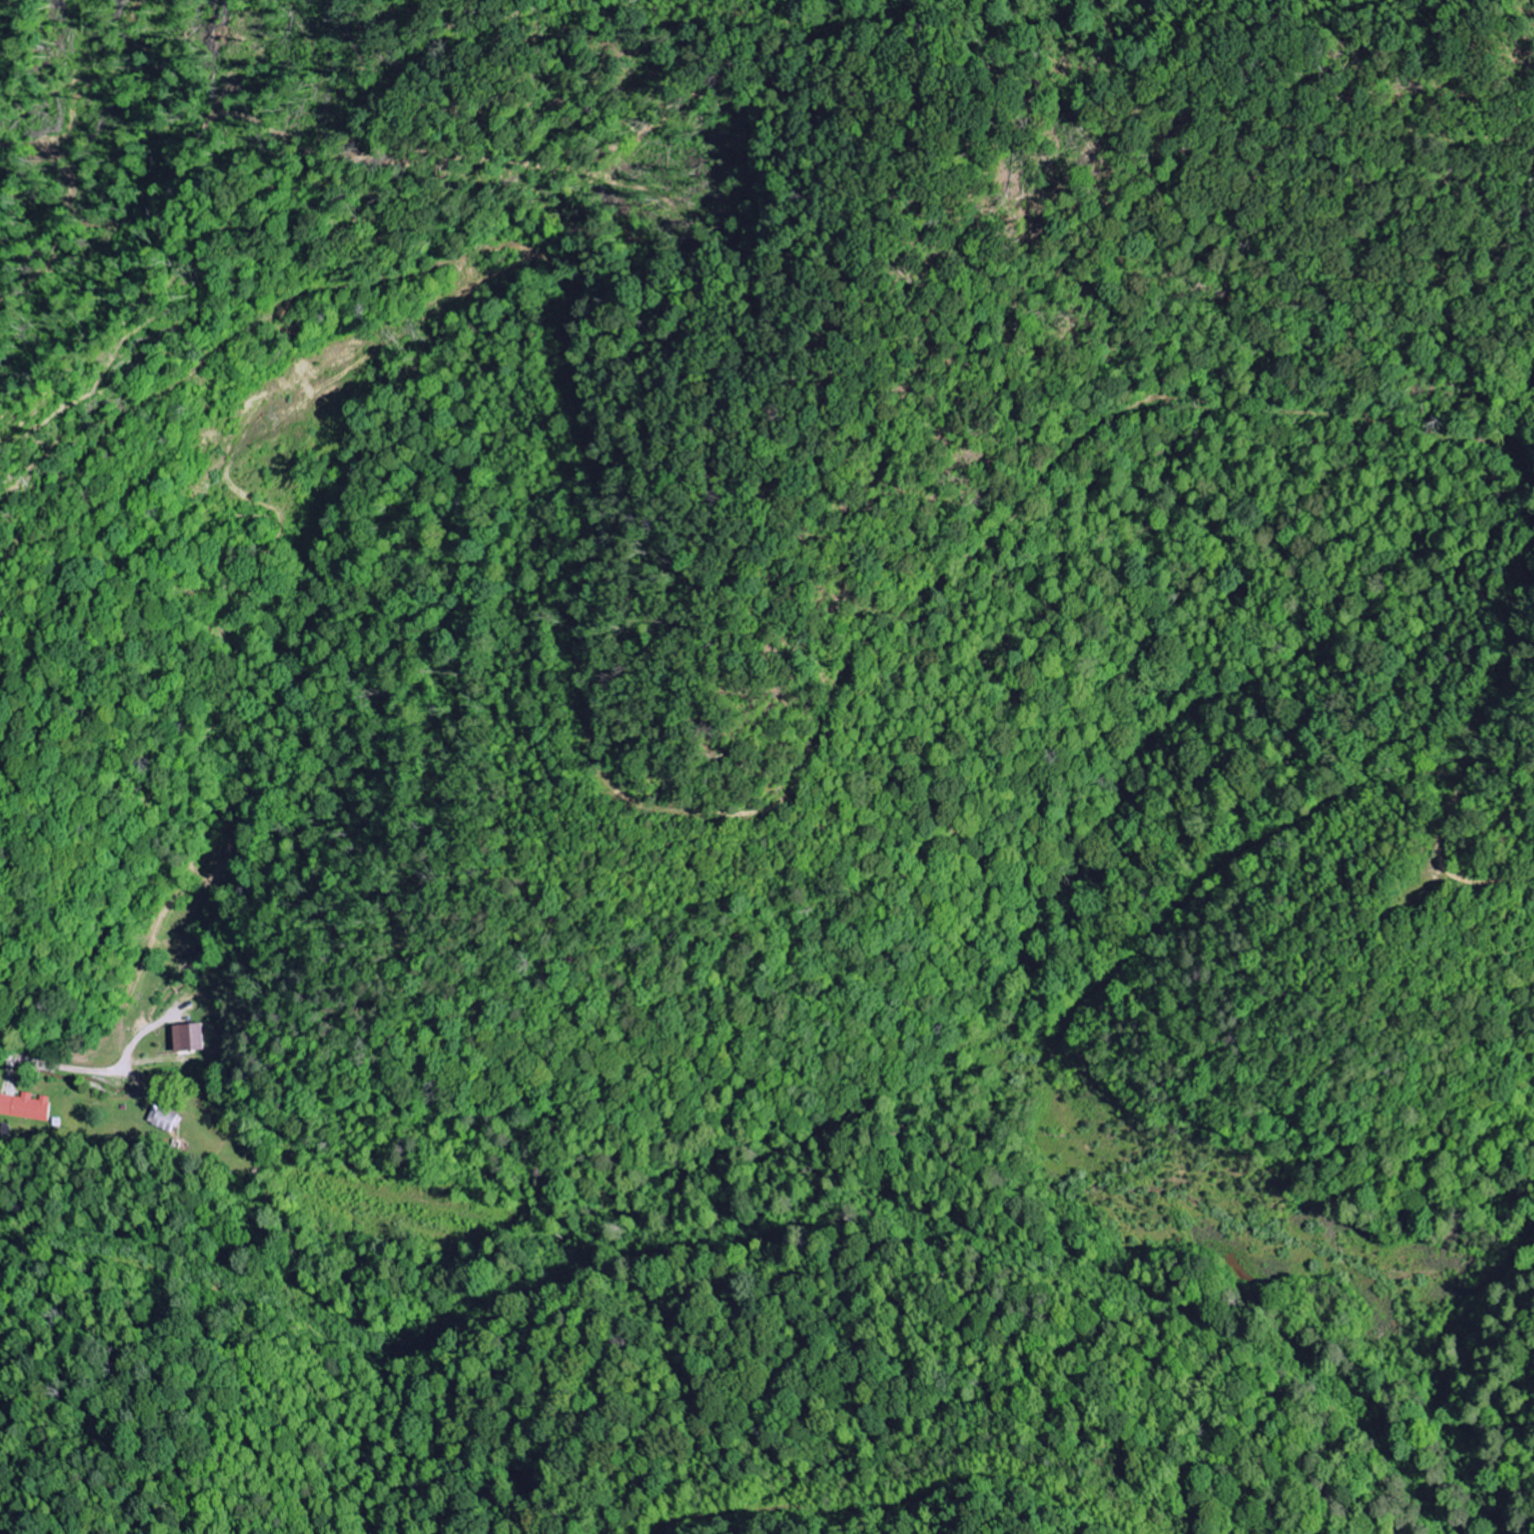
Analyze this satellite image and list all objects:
building: (183, 1038)
building: (24, 1109)
road: (259, 1116)

